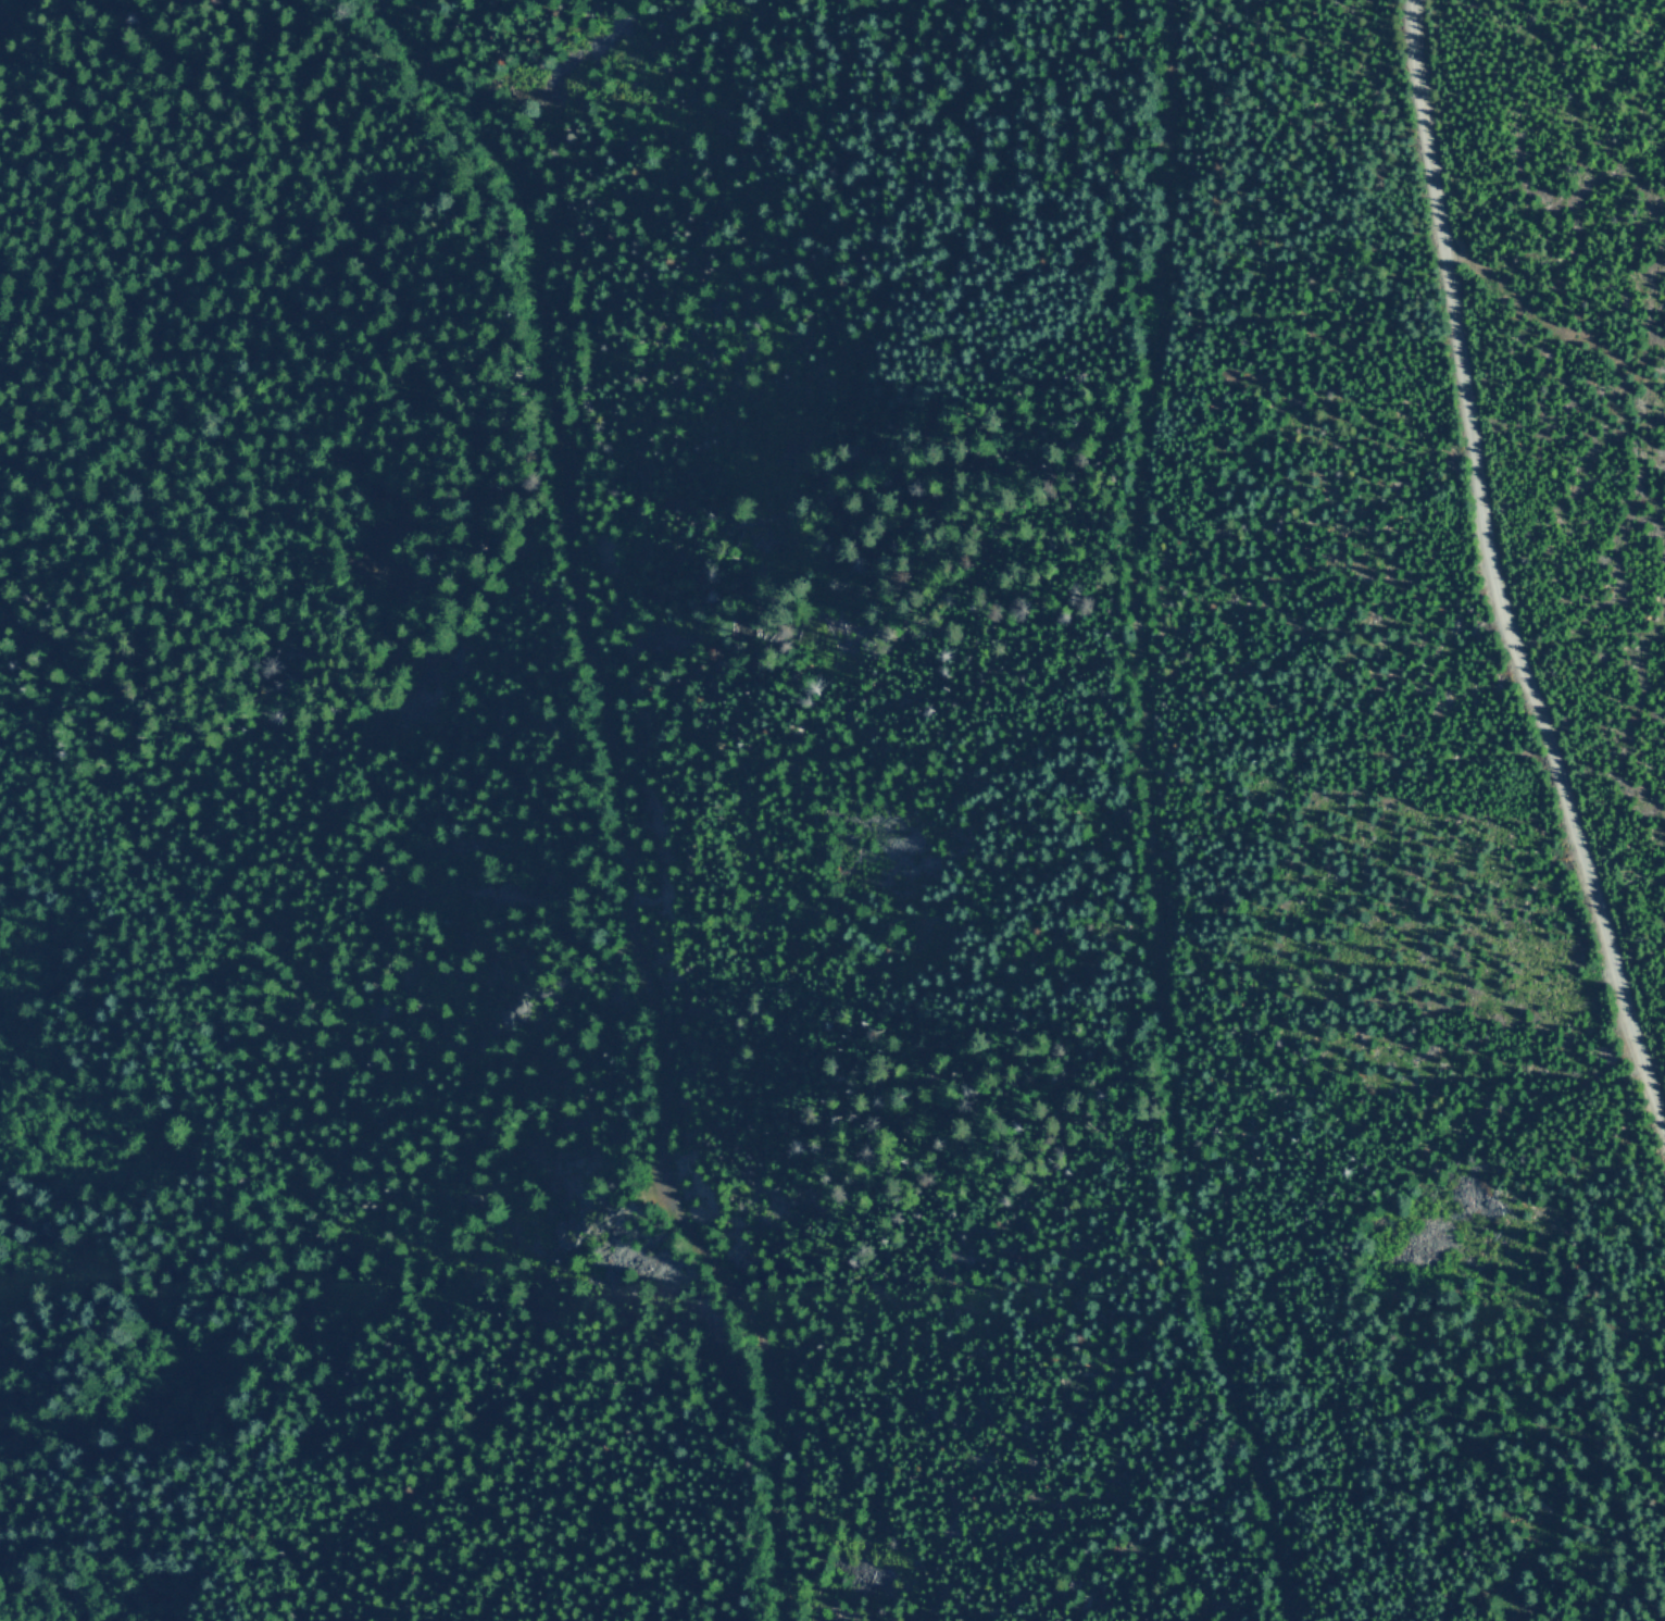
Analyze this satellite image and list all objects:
road: (1495, 574)
road: (562, 803)
road: (1138, 818)

